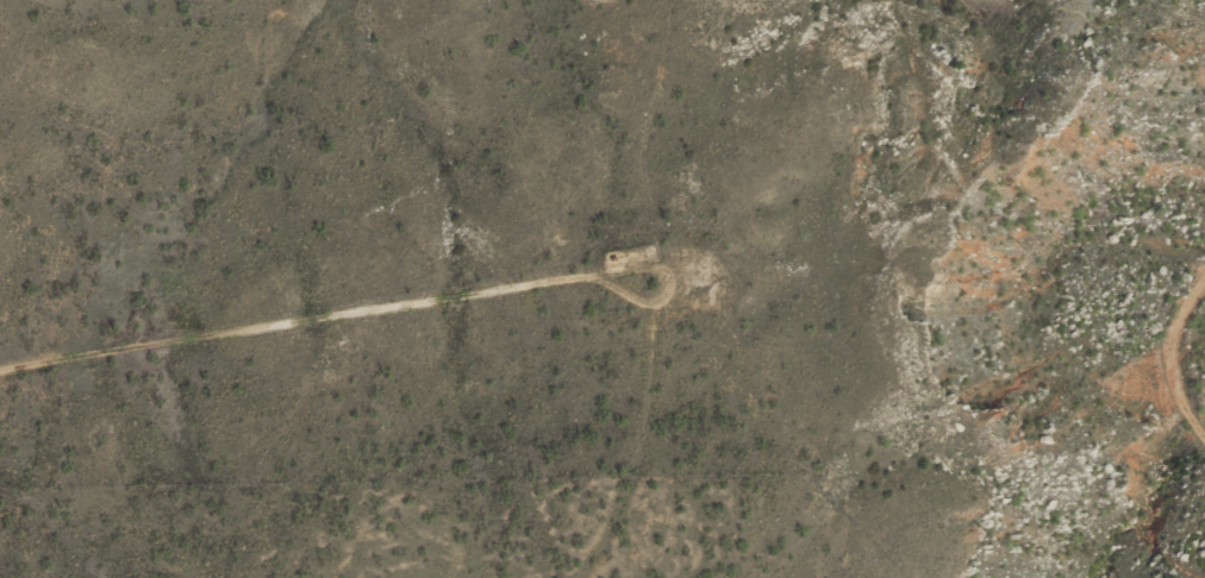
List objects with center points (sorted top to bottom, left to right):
road: (612, 138)
road: (295, 328)
road: (1179, 365)

